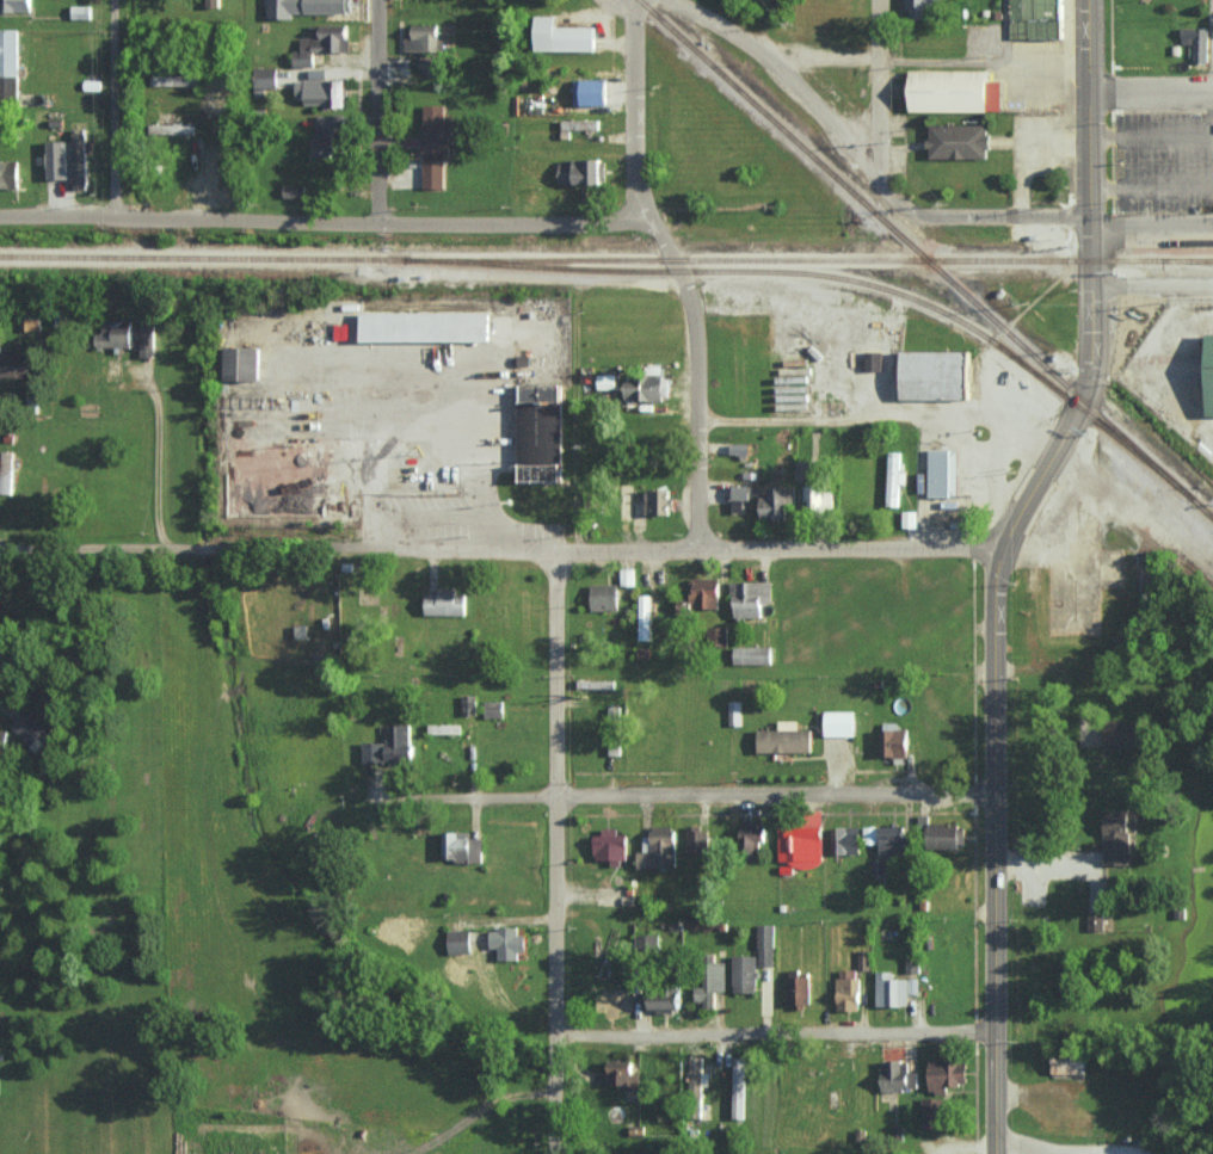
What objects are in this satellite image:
building: (16, 5)
road: (620, 5)
building: (302, 7)
building: (922, 8)
building: (81, 11)
building: (564, 36)
building: (423, 37)
building: (321, 42)
building: (1196, 42)
road: (968, 61)
building: (8, 63)
road: (784, 75)
building: (265, 78)
building: (174, 79)
building: (321, 90)
building: (954, 91)
building: (595, 92)
road: (1150, 92)
road: (879, 101)
road: (112, 109)
road: (376, 111)
building: (172, 129)
building: (435, 129)
road: (1150, 135)
building: (328, 137)
building: (959, 141)
building: (79, 158)
building: (57, 159)
parking lot: (1163, 161)
building: (580, 171)
building: (8, 173)
building: (433, 173)
road: (1150, 187)
building: (294, 190)
road: (987, 217)
road: (1150, 217)
road: (321, 221)
railway: (925, 254)
railway: (606, 261)
railway: (1201, 261)
road: (677, 272)
railway: (808, 276)
building: (30, 323)
building: (425, 326)
building: (115, 333)
building: (148, 338)
building: (874, 360)
building: (242, 363)
building: (18, 364)
building: (935, 374)
building: (1211, 375)
building: (606, 381)
building: (647, 388)
railway: (1084, 414)
road: (880, 420)
building: (541, 432)
building: (414, 452)
road: (160, 457)
building: (803, 471)
building: (6, 473)
building: (943, 473)
road: (1000, 475)
building: (894, 477)
building: (740, 496)
building: (820, 496)
building: (658, 501)
building: (777, 502)
railway: (1192, 519)
railway: (1211, 527)
road: (499, 550)
road: (997, 563)
building: (1109, 570)
building: (1032, 579)
building: (704, 593)
building: (603, 597)
building: (750, 598)
building: (445, 603)
building: (645, 617)
building: (718, 632)
building: (752, 654)
building: (469, 704)
building: (735, 712)
building: (839, 723)
building: (615, 726)
building: (27, 727)
building: (444, 728)
building: (1122, 734)
building: (786, 738)
building: (2, 740)
building: (894, 742)
building: (390, 747)
road: (671, 794)
building: (752, 831)
building: (870, 834)
building: (1117, 837)
building: (800, 839)
building: (845, 839)
building: (697, 840)
building: (892, 840)
building: (610, 846)
building: (462, 847)
building: (659, 850)
road: (554, 852)
building: (1096, 920)
building: (460, 942)
building: (647, 942)
building: (507, 943)
building: (765, 944)
building: (863, 959)
building: (745, 973)
building: (710, 983)
building: (799, 989)
building: (848, 989)
building: (894, 989)
building: (665, 1001)
road: (774, 1031)
building: (1069, 1062)
building: (622, 1073)
building: (948, 1073)
building: (898, 1076)
building: (739, 1087)
building: (935, 1112)
road: (482, 1113)
road: (1024, 1148)

